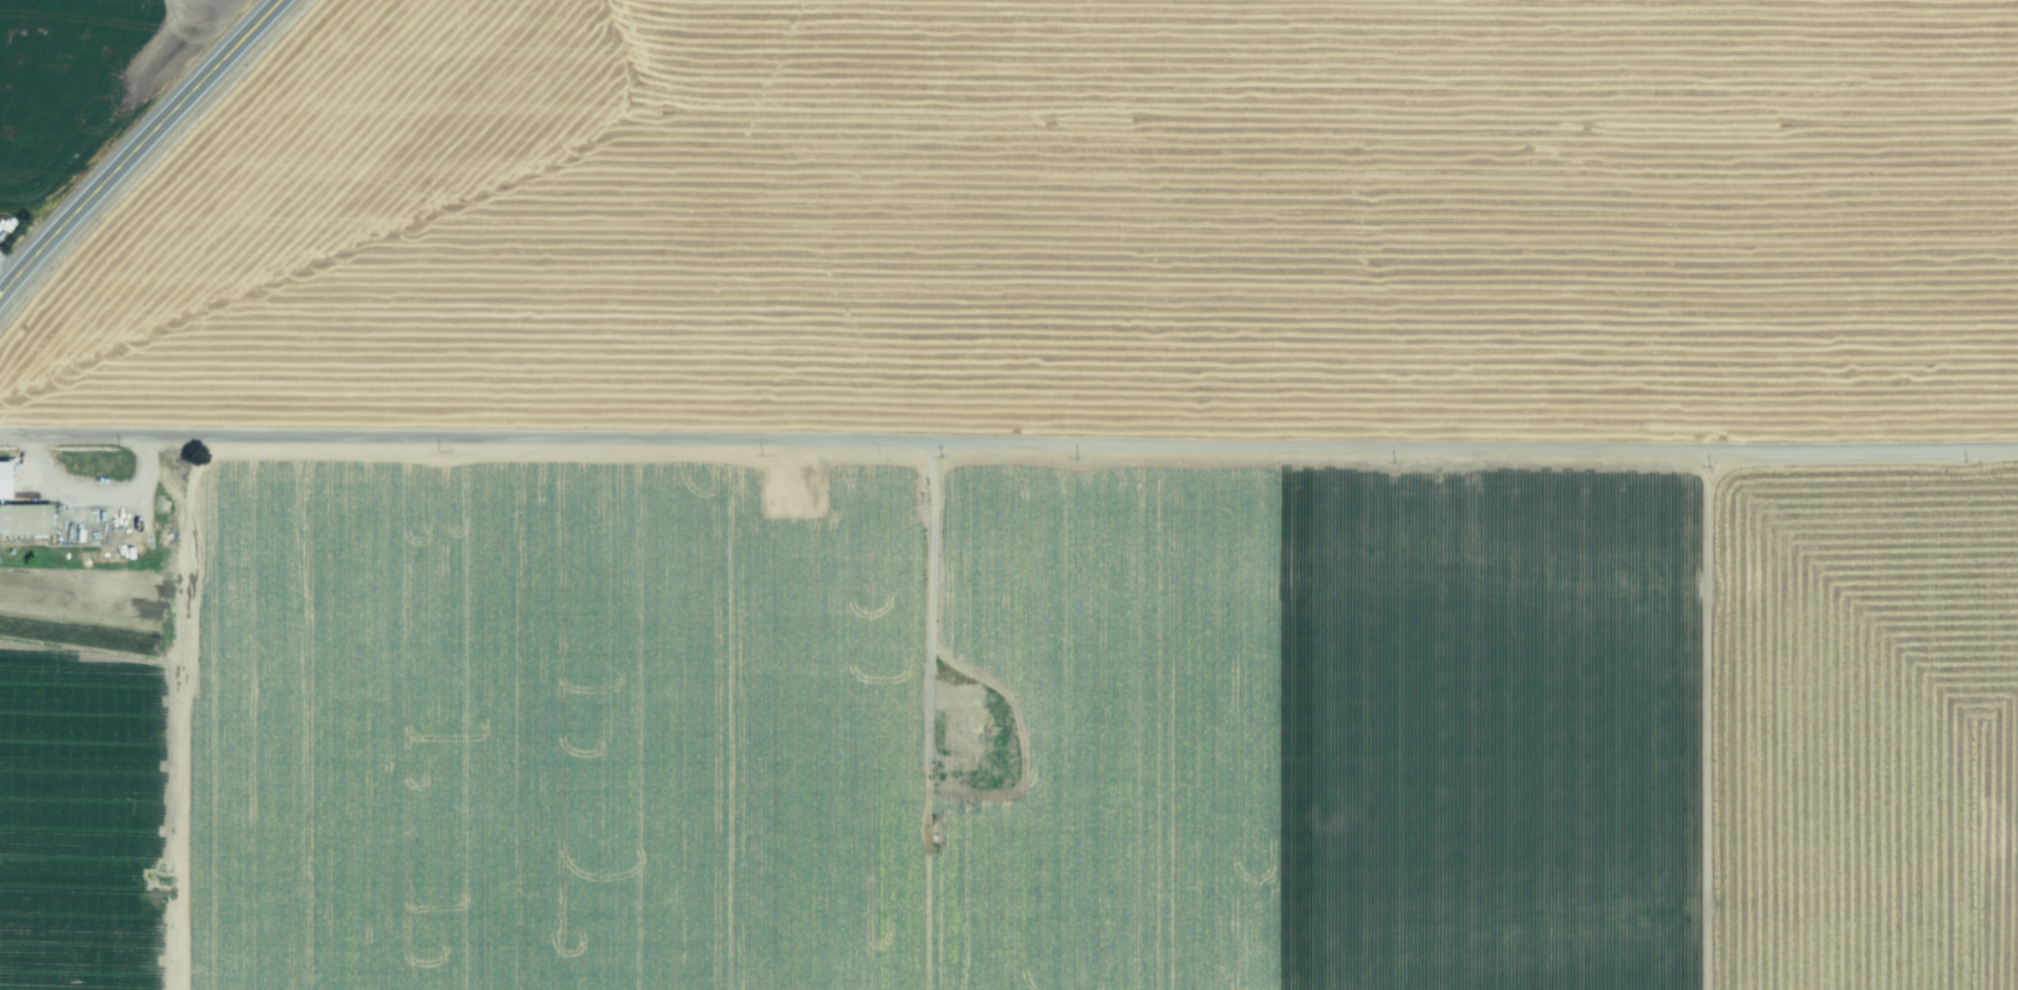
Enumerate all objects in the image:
road: (138, 145)
road: (9, 267)
road: (1009, 443)
building: (1, 481)
road: (87, 488)
crop: (1009, 495)
building: (25, 521)
road: (930, 595)
building: (966, 694)
building: (959, 731)

